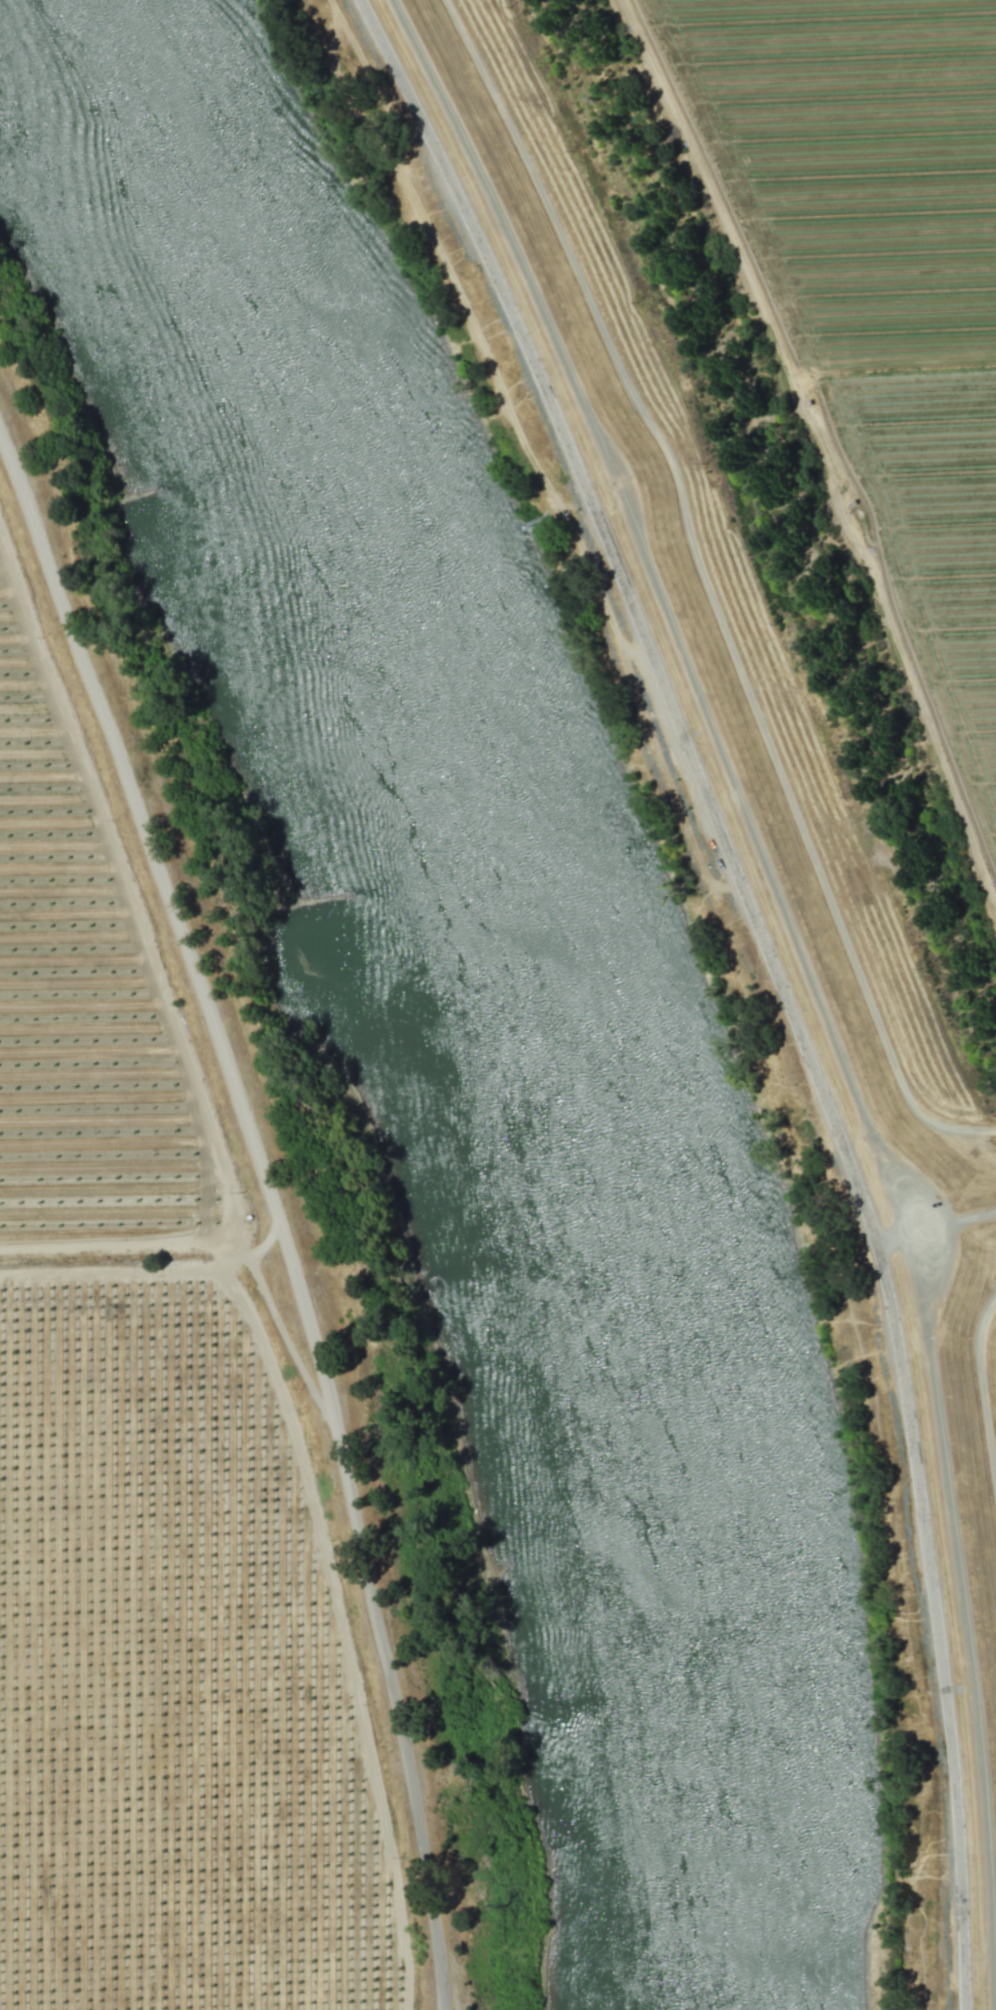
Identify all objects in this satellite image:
road: (774, 973)
river: (508, 979)
road: (278, 1212)
crop: (179, 1428)

